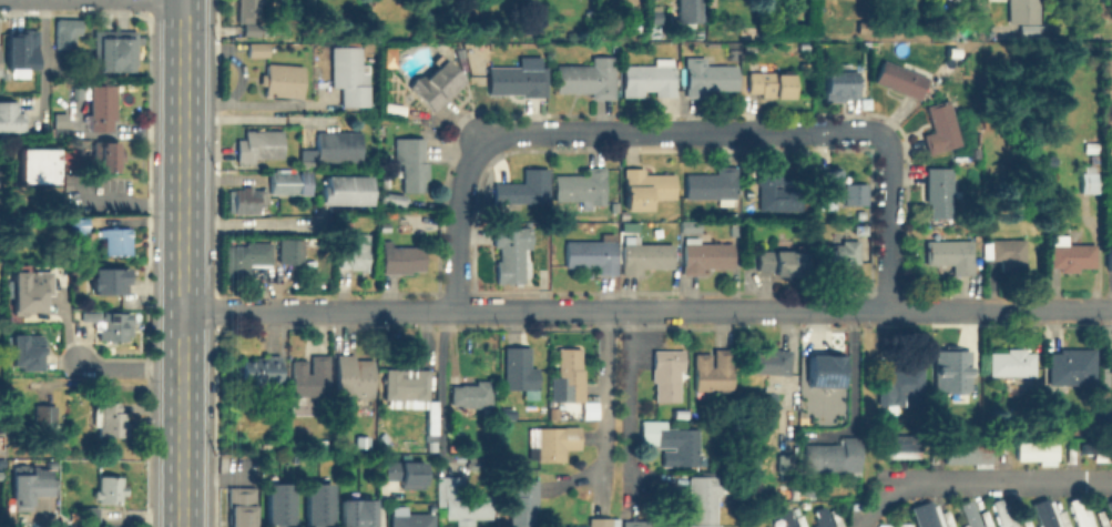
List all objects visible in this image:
building: (248, 9)
building: (688, 11)
building: (655, 16)
building: (1024, 16)
building: (635, 29)
building: (67, 31)
building: (252, 31)
building: (943, 31)
building: (257, 49)
building: (114, 50)
building: (952, 51)
building: (21, 52)
road: (41, 60)
building: (350, 77)
building: (588, 77)
building: (708, 77)
building: (902, 77)
building: (517, 79)
building: (283, 80)
building: (649, 80)
building: (772, 83)
building: (438, 84)
building: (843, 87)
building: (78, 93)
road: (252, 103)
building: (102, 107)
road: (249, 118)
building: (10, 119)
building: (941, 126)
road: (681, 130)
building: (1091, 145)
building: (262, 146)
building: (339, 148)
building: (108, 155)
building: (410, 158)
building: (385, 160)
building: (304, 165)
building: (44, 166)
building: (1092, 174)
building: (385, 181)
building: (285, 182)
building: (825, 183)
building: (713, 185)
building: (581, 186)
building: (645, 186)
building: (524, 188)
building: (773, 190)
building: (938, 190)
building: (344, 192)
building: (856, 195)
building: (391, 197)
road: (132, 200)
building: (245, 200)
road: (888, 219)
road: (455, 220)
building: (341, 221)
road: (251, 225)
building: (690, 225)
building: (75, 231)
building: (118, 240)
building: (512, 247)
building: (290, 249)
building: (355, 252)
building: (593, 253)
building: (1007, 253)
building: (705, 254)
building: (837, 254)
building: (951, 254)
building: (645, 255)
building: (1070, 255)
building: (246, 256)
building: (1109, 256)
building: (402, 259)
building: (782, 262)
road: (182, 263)
building: (111, 282)
building: (32, 291)
road: (549, 307)
road: (808, 307)
road: (1000, 307)
road: (276, 310)
building: (90, 316)
building: (116, 328)
road: (443, 351)
building: (28, 353)
building: (769, 361)
building: (1110, 361)
building: (1012, 362)
building: (960, 366)
building: (1072, 366)
building: (261, 367)
road: (127, 368)
building: (520, 368)
building: (714, 369)
building: (822, 369)
building: (571, 373)
building: (667, 374)
building: (354, 375)
building: (309, 376)
building: (407, 384)
building: (820, 388)
building: (904, 389)
building: (472, 394)
building: (559, 405)
road: (626, 407)
road: (601, 408)
building: (551, 412)
building: (590, 413)
building: (45, 415)
building: (111, 423)
building: (1091, 432)
building: (673, 442)
building: (324, 443)
building: (554, 443)
building: (899, 446)
building: (430, 447)
building: (963, 452)
building: (1034, 452)
building: (834, 456)
building: (785, 463)
building: (747, 465)
building: (405, 475)
road: (1023, 480)
building: (27, 487)
building: (806, 488)
road: (888, 489)
building: (110, 490)
building: (704, 500)
building: (461, 501)
building: (523, 503)
building: (319, 505)
building: (280, 507)
building: (243, 508)
building: (1109, 509)
building: (1078, 511)
building: (999, 513)
building: (89, 514)
building: (967, 514)
building: (1048, 514)
building: (357, 515)
building: (925, 515)
building: (819, 517)
building: (411, 519)
building: (598, 521)
building: (643, 523)

